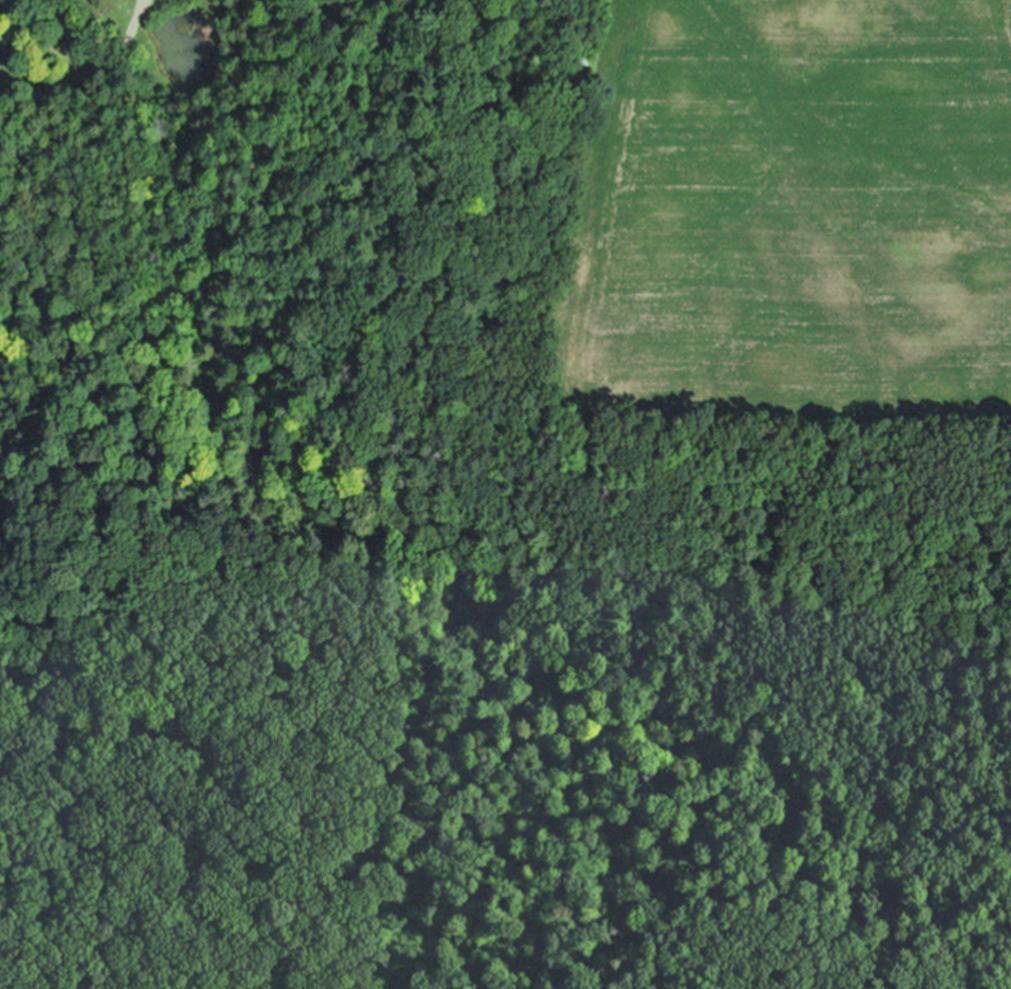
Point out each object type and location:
road: (147, 5)

